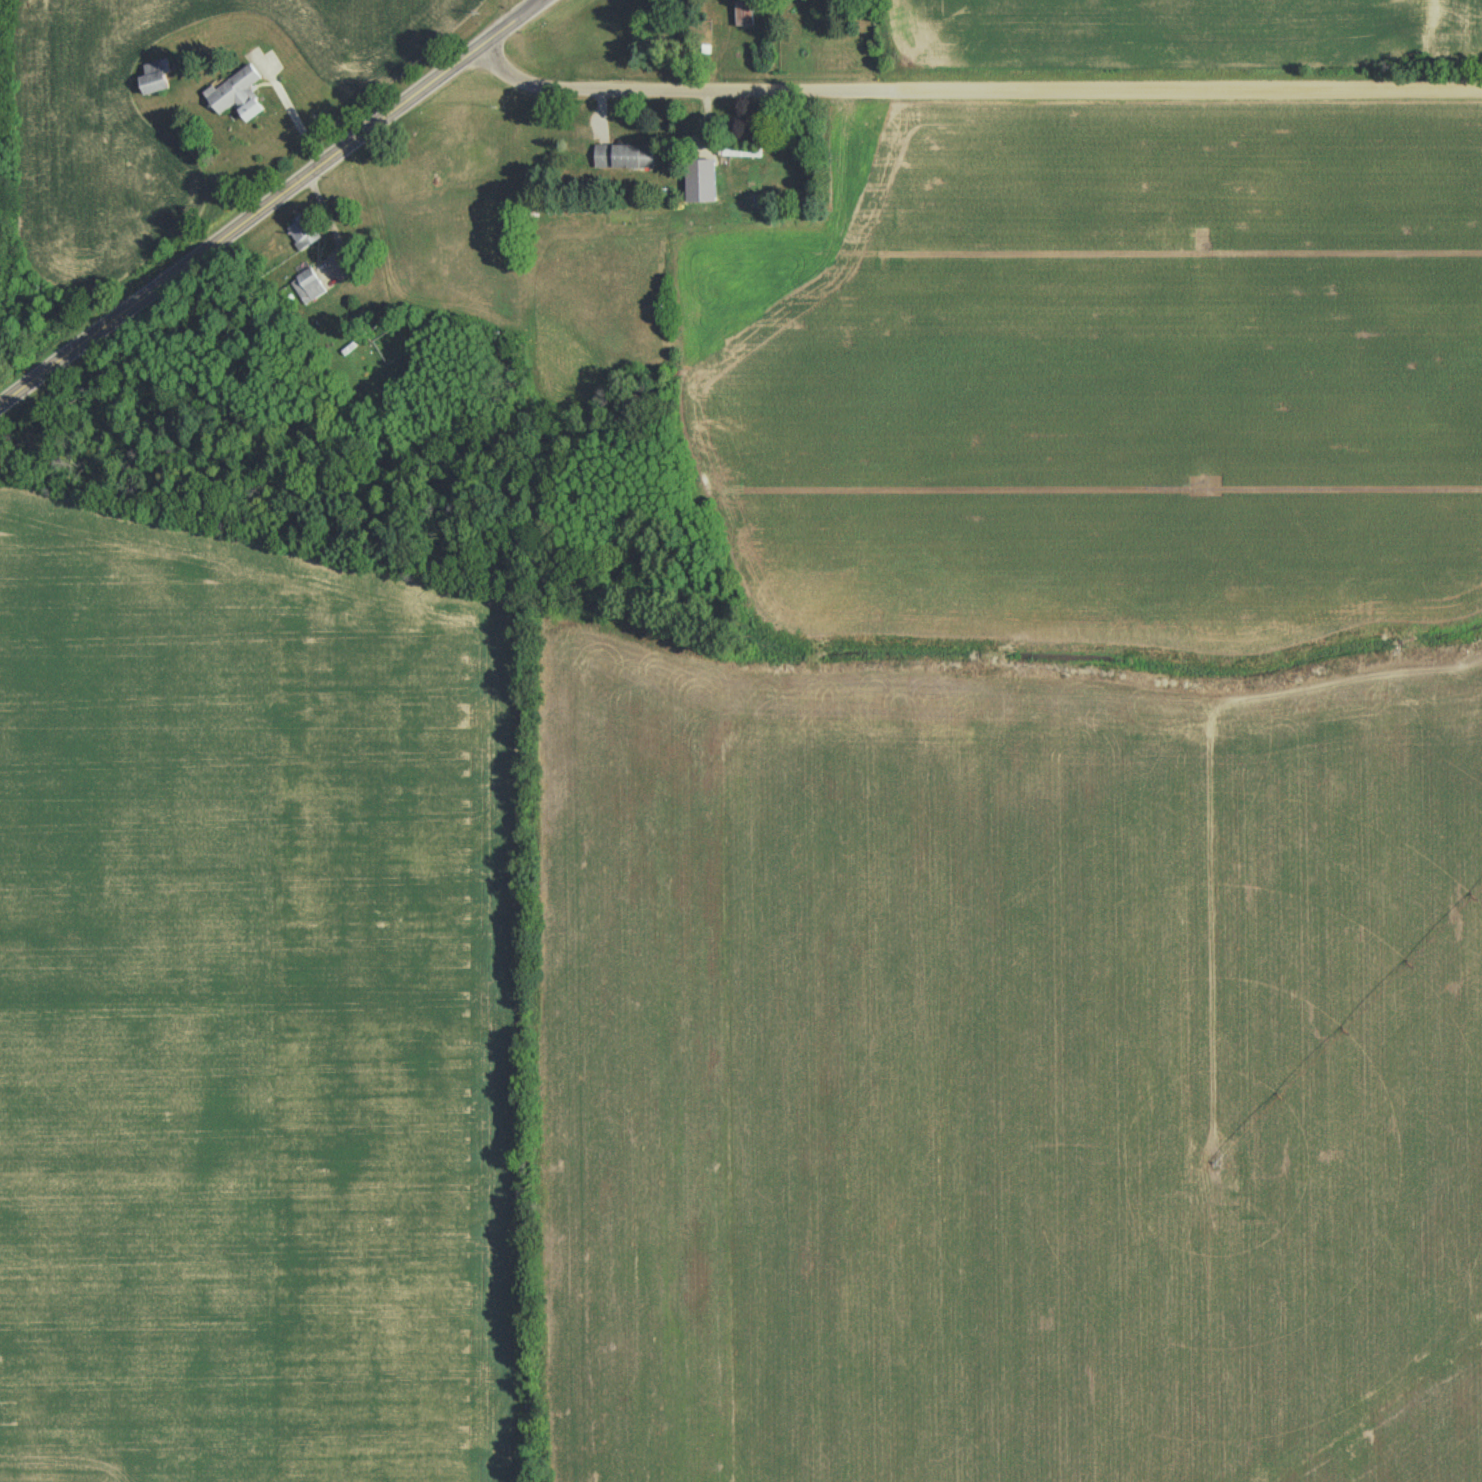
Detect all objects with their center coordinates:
road: (510, 10)
road: (525, 10)
building: (744, 16)
road: (519, 56)
building: (155, 80)
road: (945, 92)
building: (237, 97)
building: (740, 155)
building: (623, 160)
road: (254, 210)
building: (303, 234)
building: (307, 289)
road: (840, 336)
building: (400, 349)
road: (862, 586)

